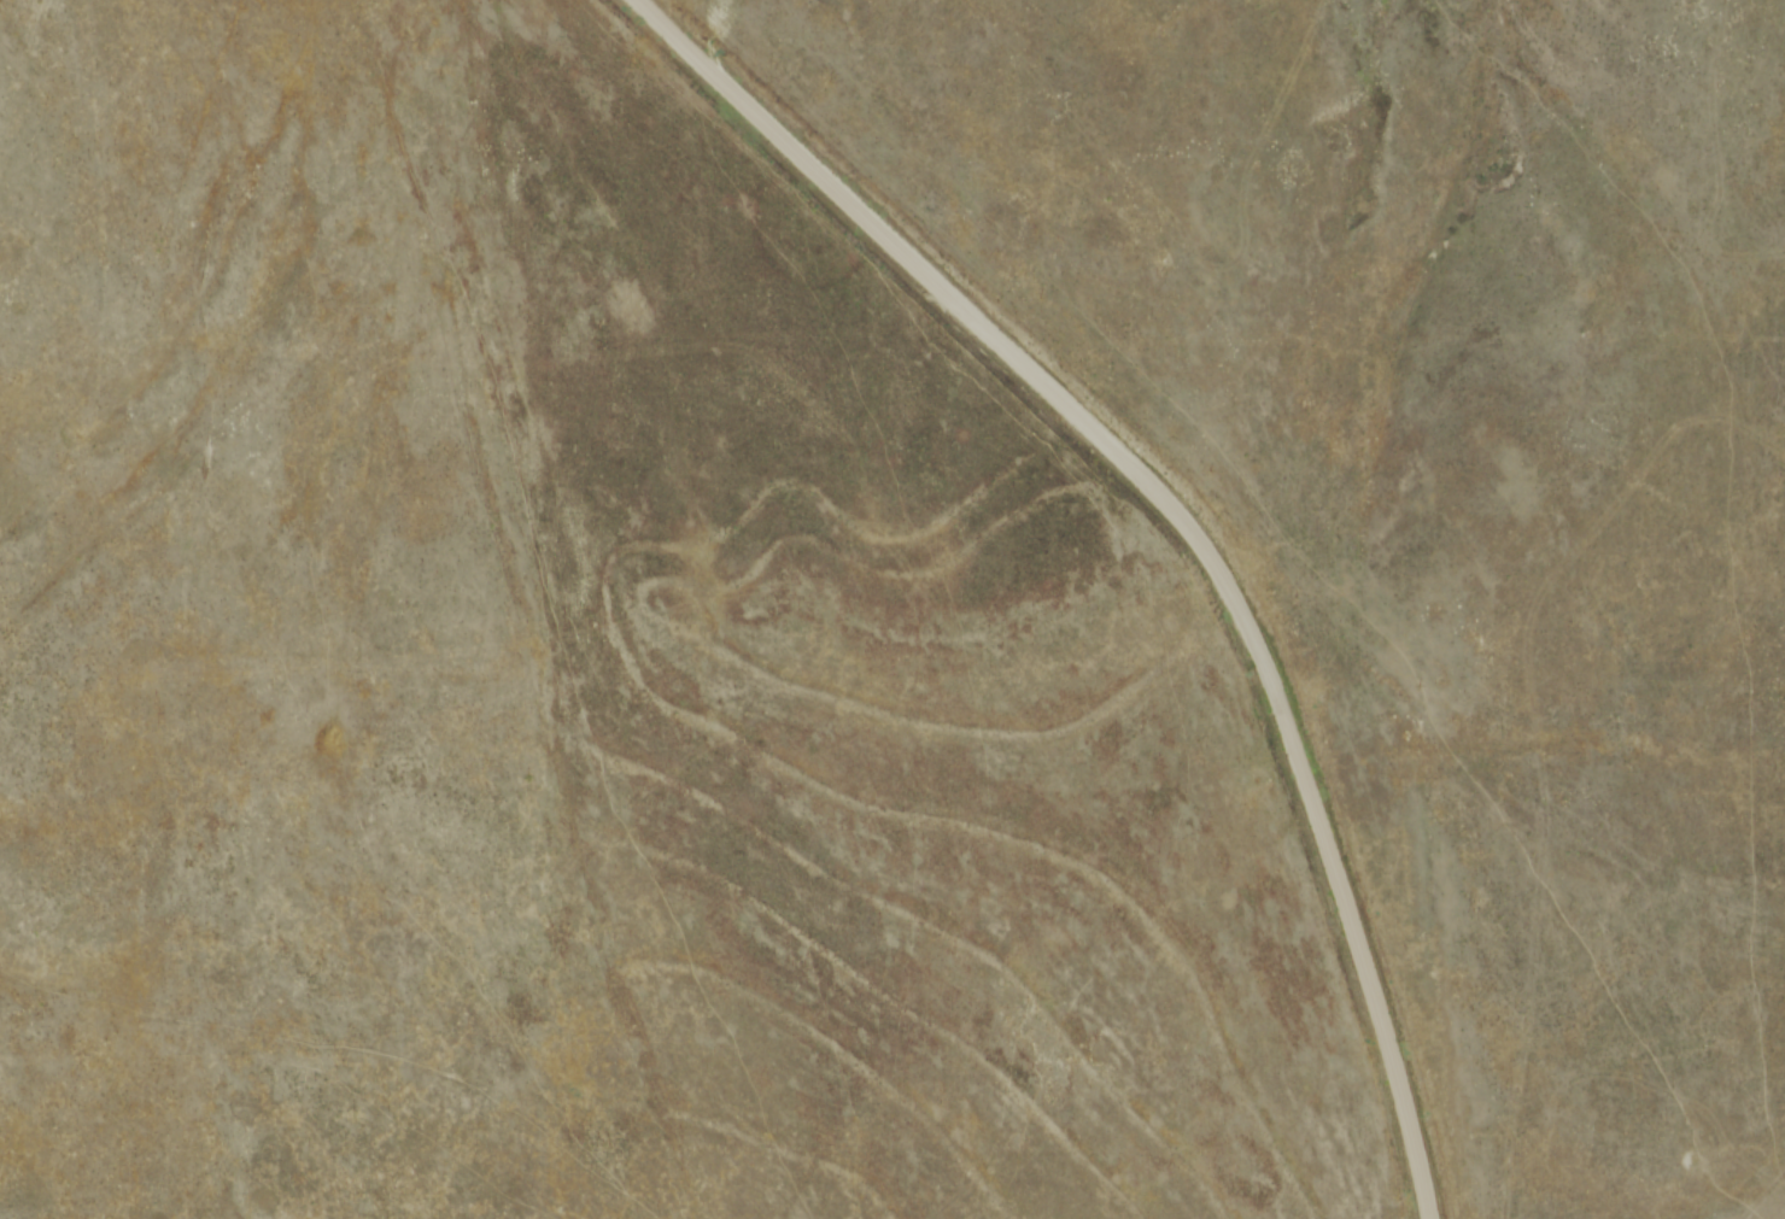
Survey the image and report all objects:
road: (1183, 517)

